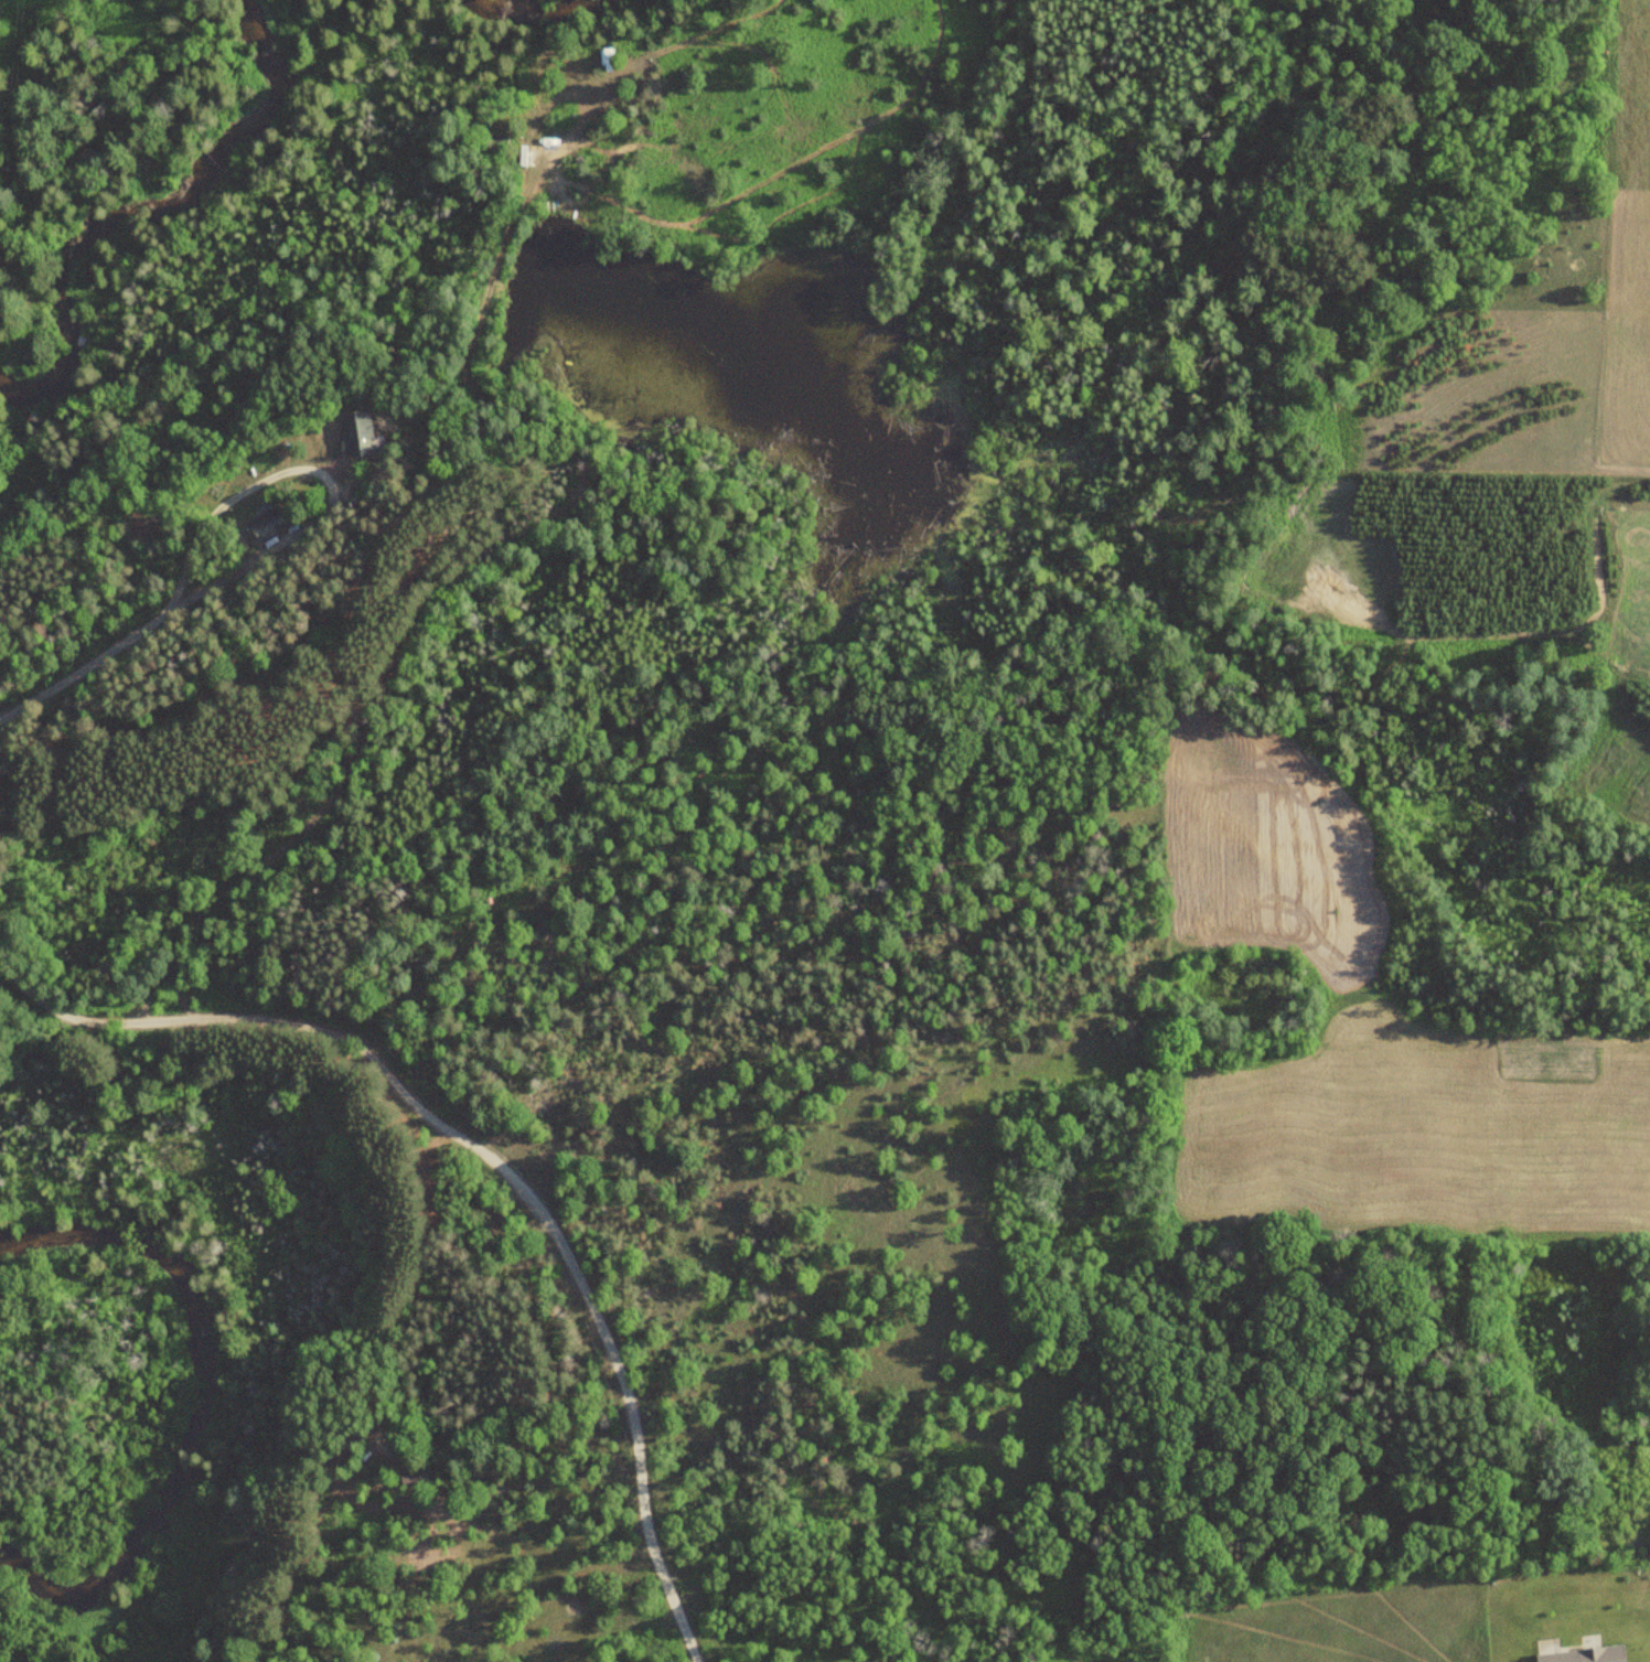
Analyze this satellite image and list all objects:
river: (539, 13)
building: (488, 135)
river: (151, 214)
building: (354, 433)
road: (323, 480)
building: (266, 525)
road: (94, 660)
road: (486, 1158)
river: (214, 1403)

